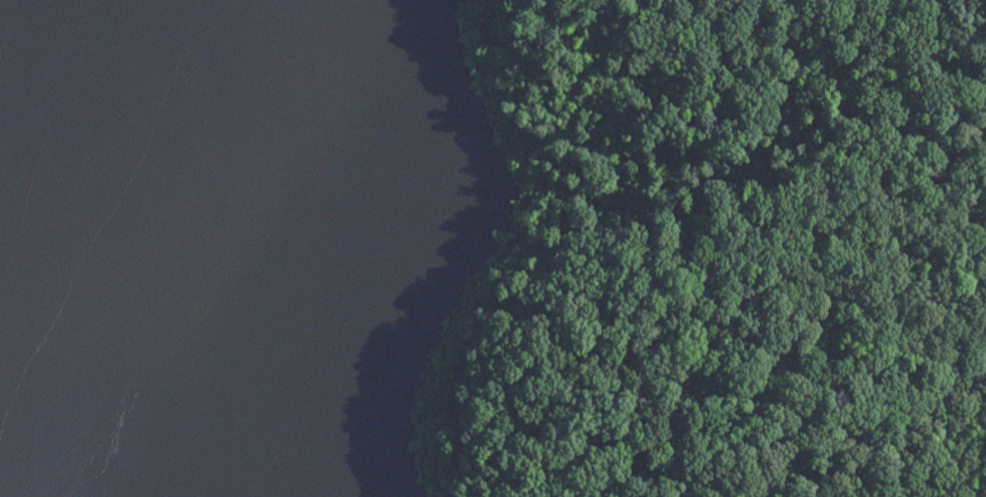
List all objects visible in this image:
road: (883, 201)
road: (727, 320)

